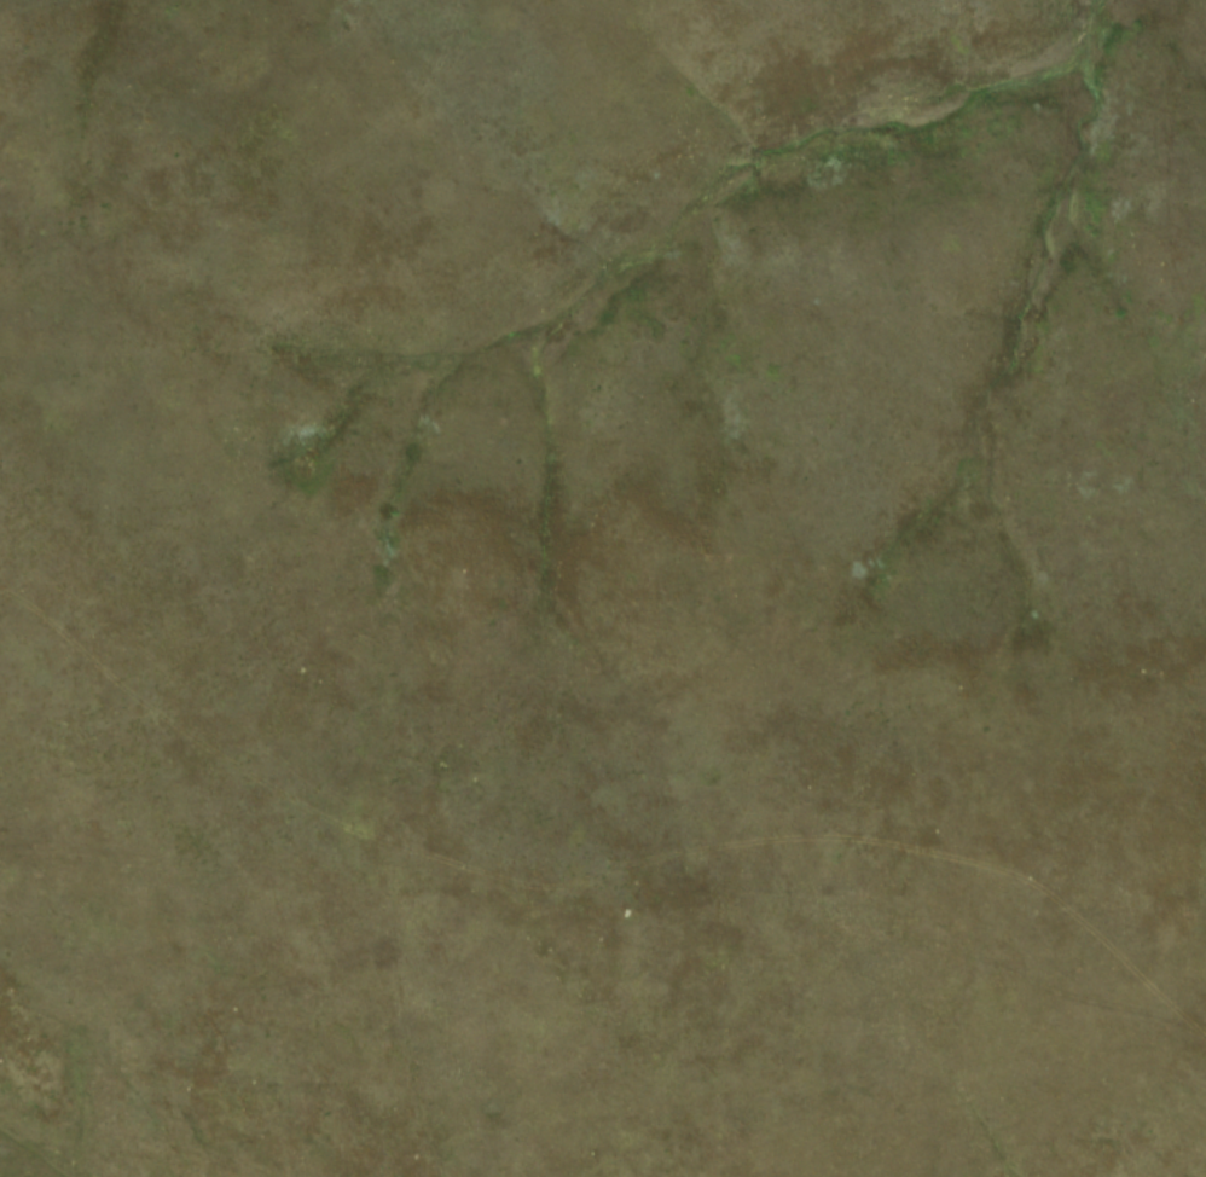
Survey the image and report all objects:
road: (619, 859)

